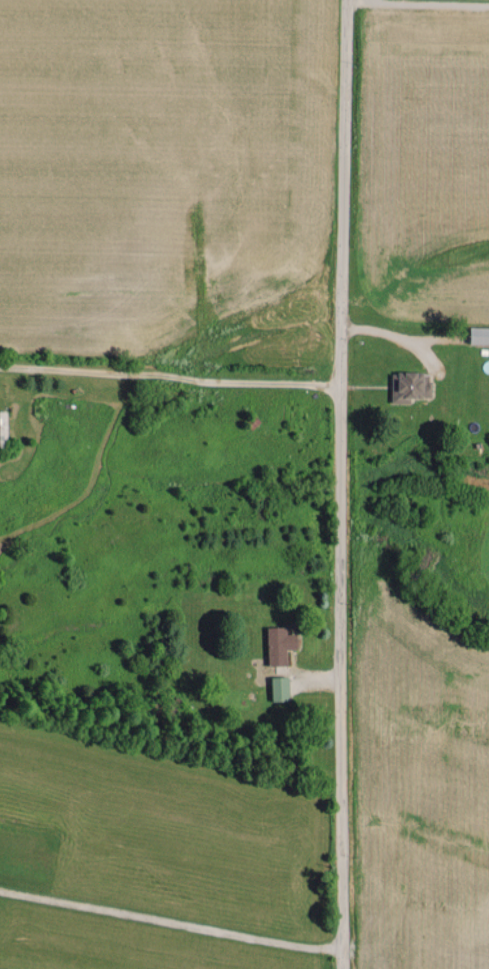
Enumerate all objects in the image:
building: (480, 334)
road: (160, 373)
building: (411, 386)
building: (3, 427)
road: (323, 484)
building: (280, 643)
building: (281, 687)
road: (169, 920)

